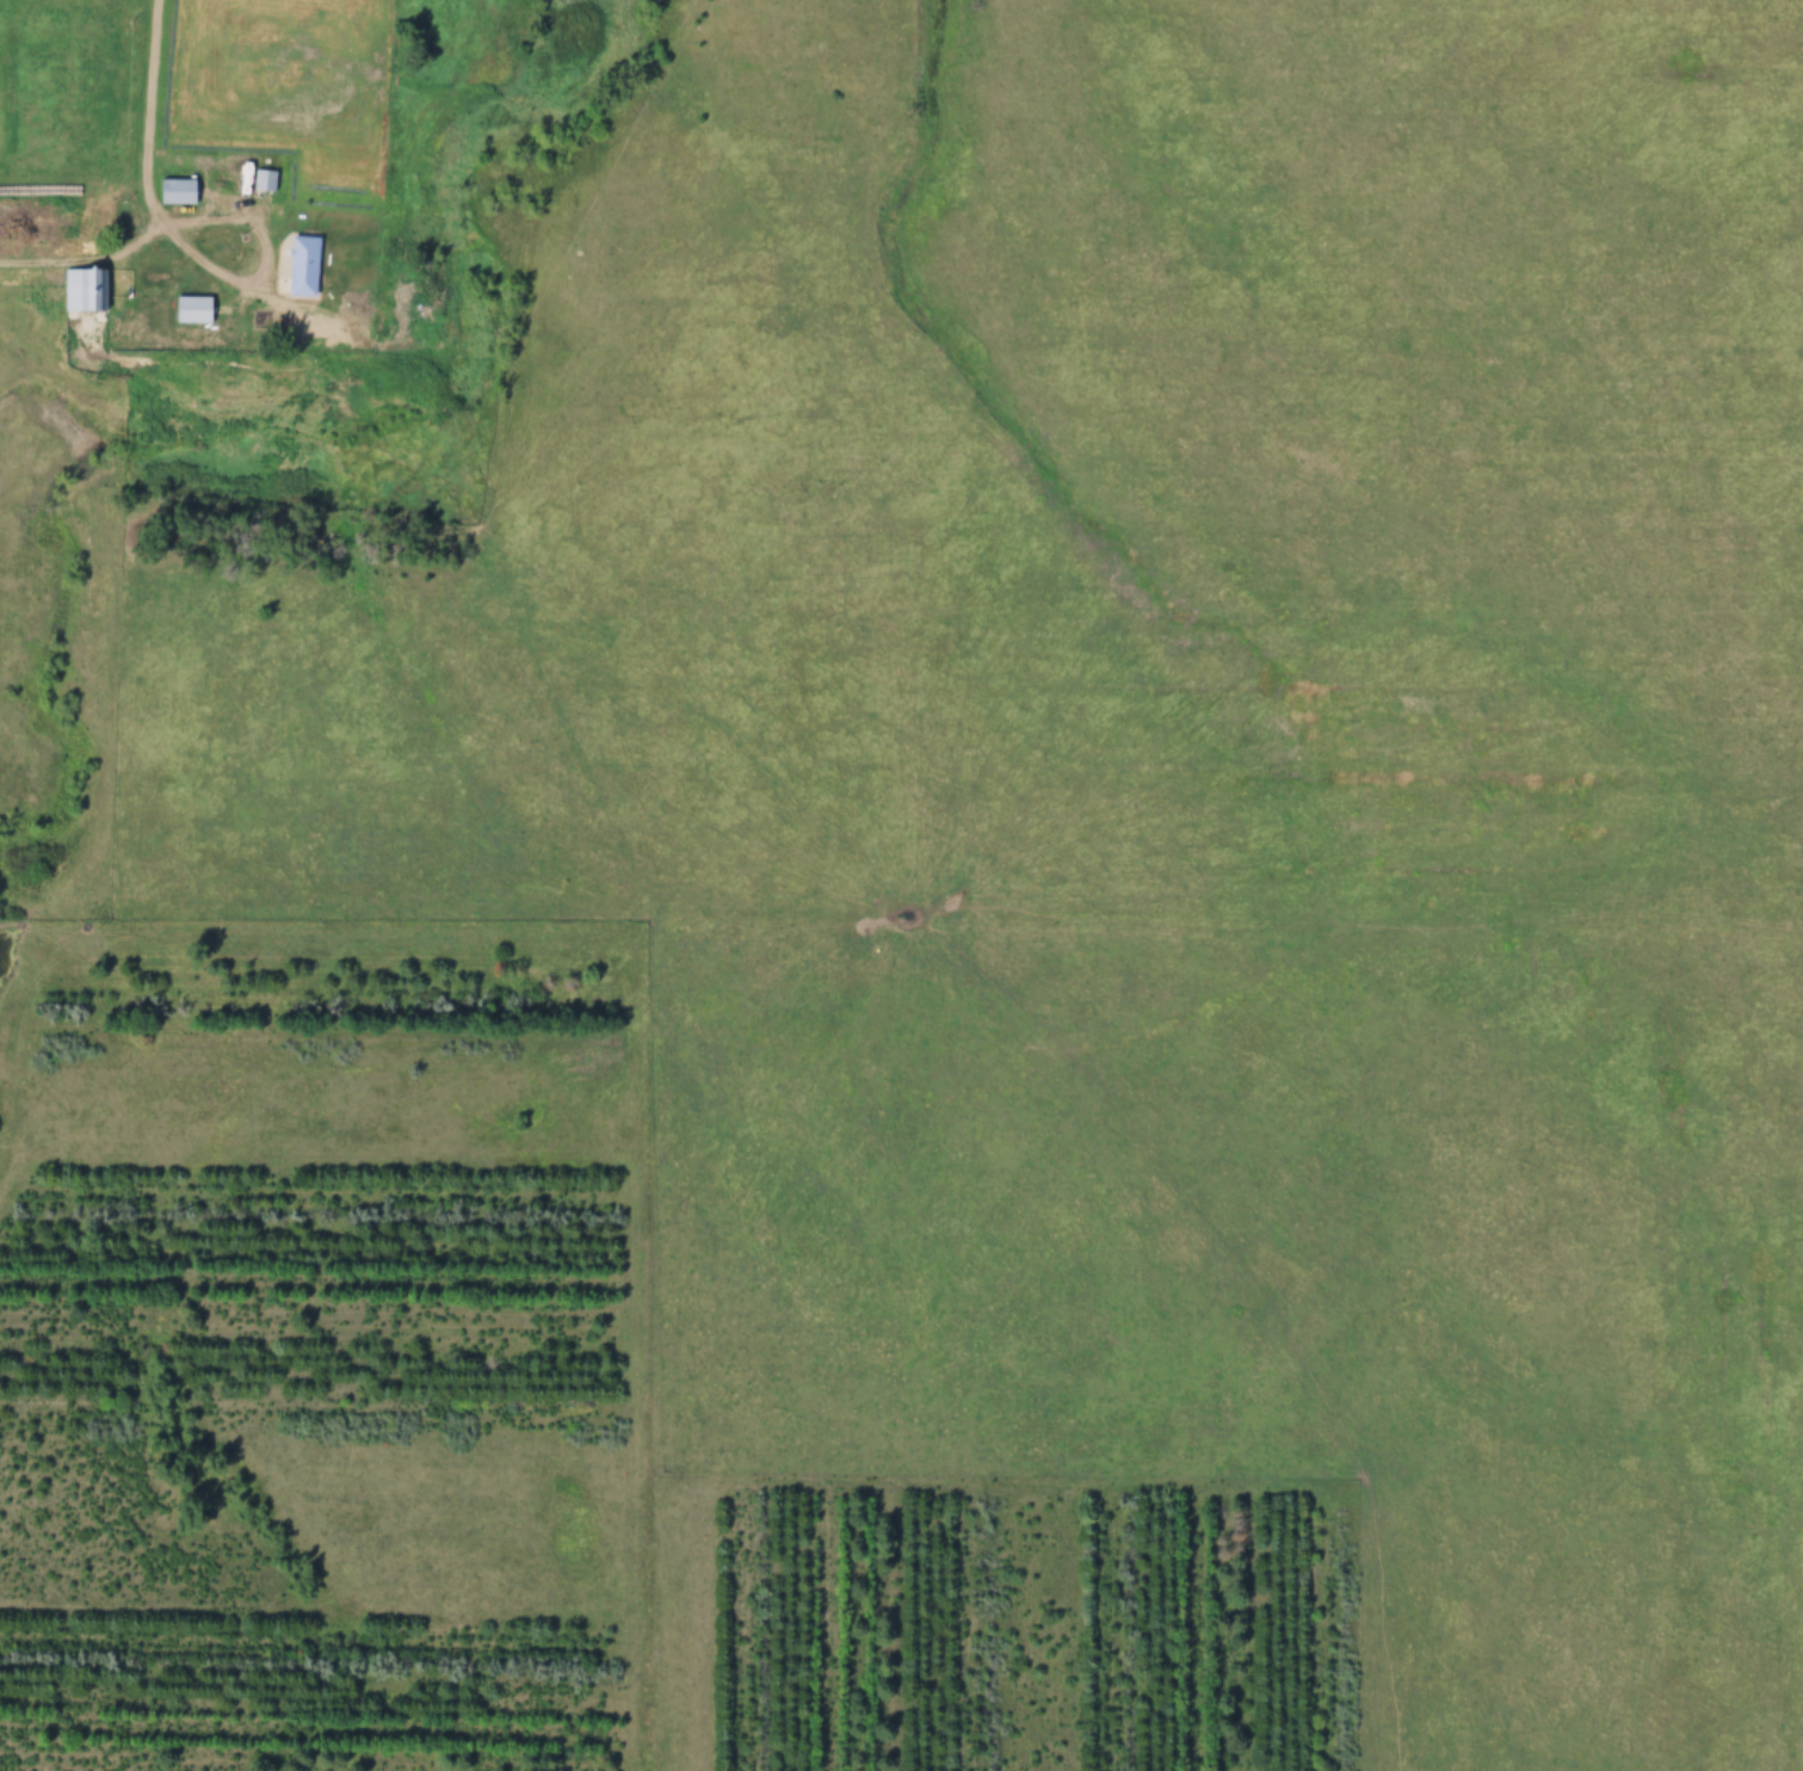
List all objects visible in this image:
building: (263, 180)
building: (177, 191)
building: (302, 266)
building: (82, 290)
building: (192, 309)
building: (259, 320)

